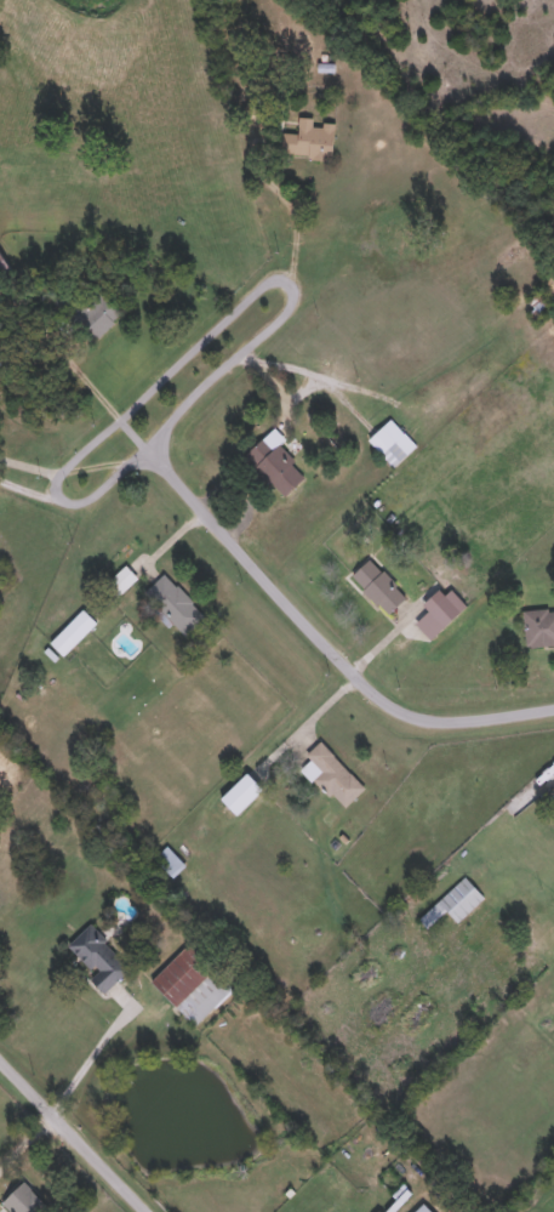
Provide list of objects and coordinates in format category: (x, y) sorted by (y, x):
building: (308, 141)
road: (289, 203)
building: (539, 301)
building: (95, 307)
road: (206, 332)
road: (70, 345)
building: (393, 442)
road: (29, 462)
building: (274, 462)
road: (28, 480)
building: (379, 586)
building: (175, 603)
building: (538, 627)
building: (74, 632)
road: (326, 633)
building: (332, 774)
building: (553, 785)
building: (170, 860)
building: (456, 899)
building: (98, 956)
building: (192, 981)
road: (98, 1041)
road: (78, 1132)
road: (29, 1142)
building: (24, 1200)
building: (423, 1208)

